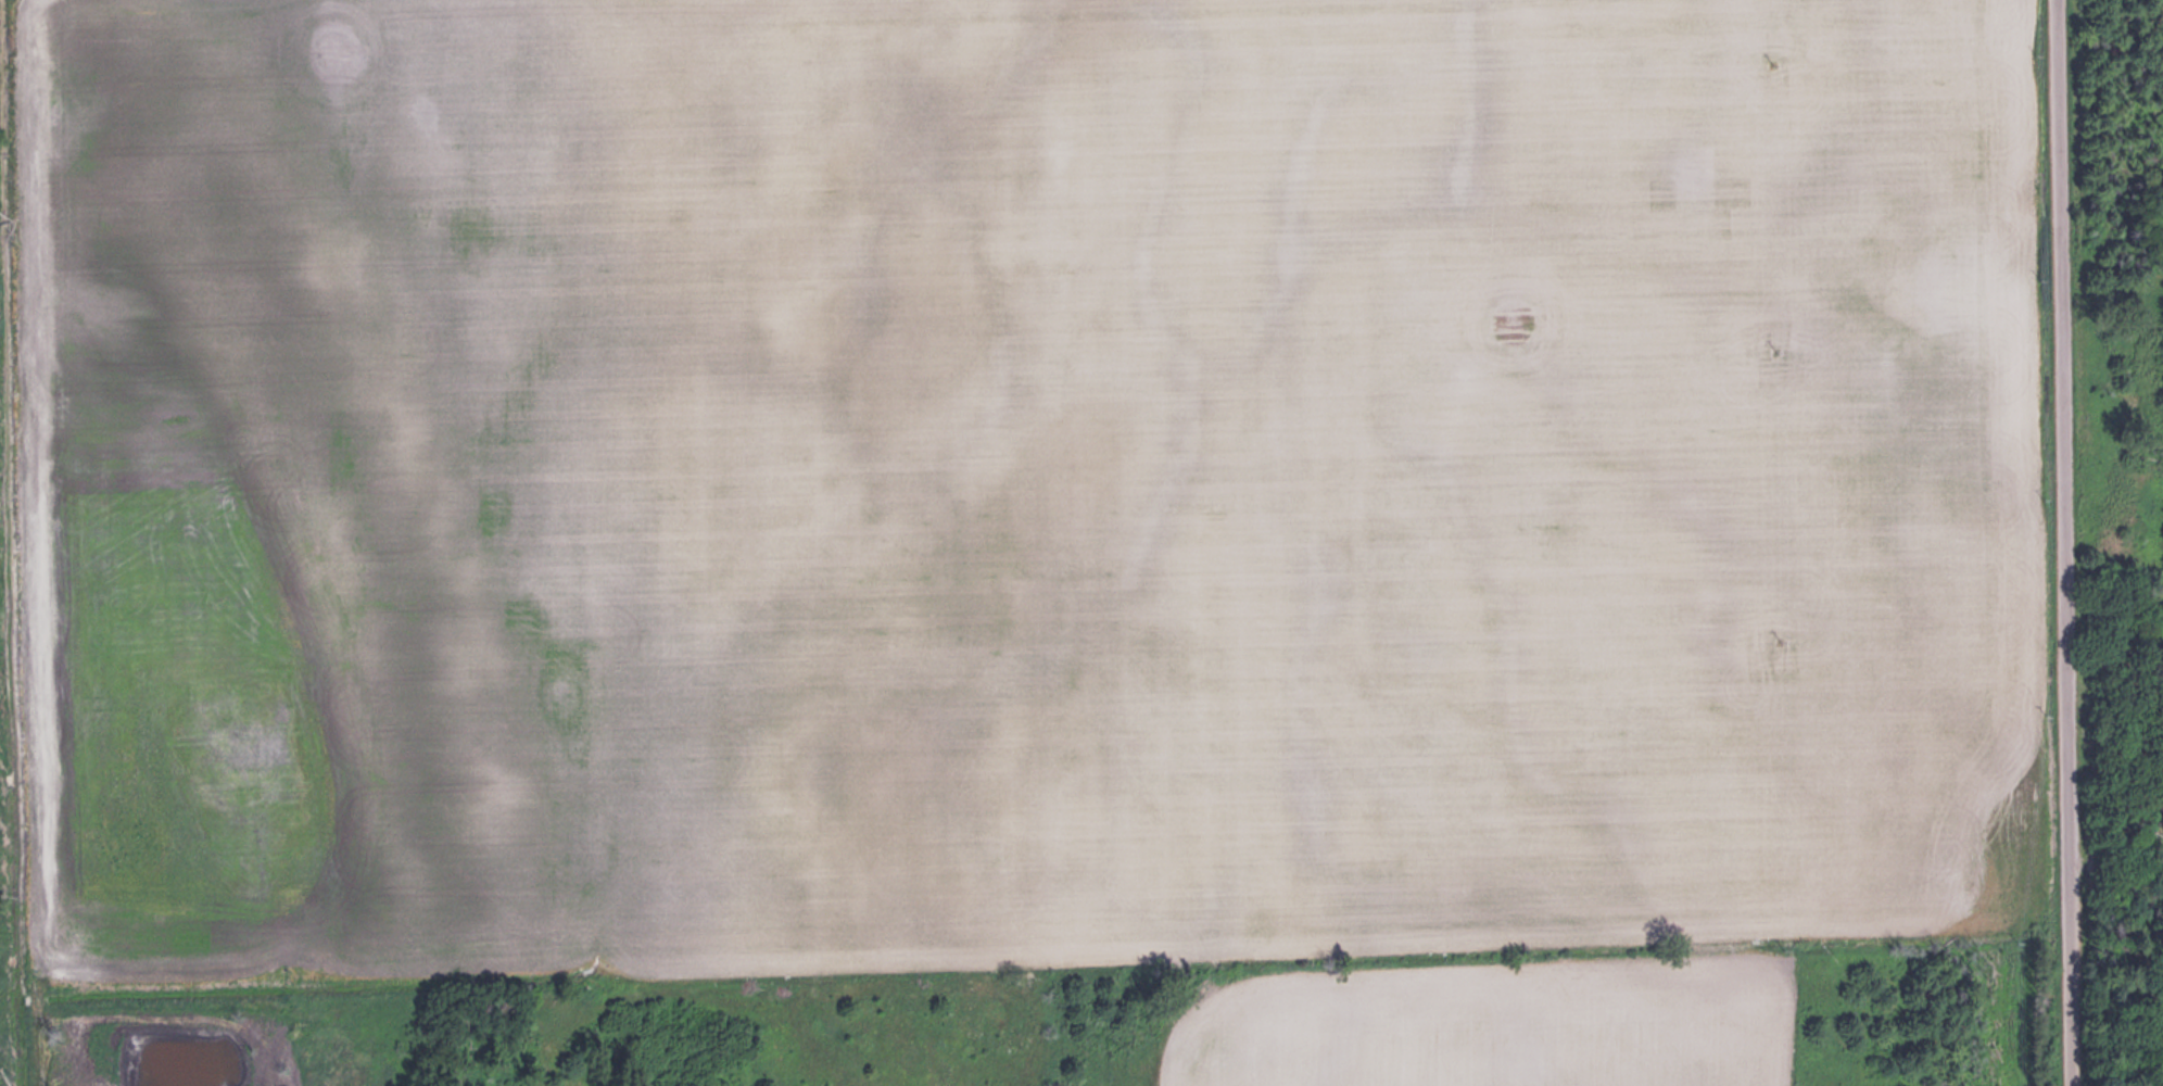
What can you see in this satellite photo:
road: (2058, 543)

